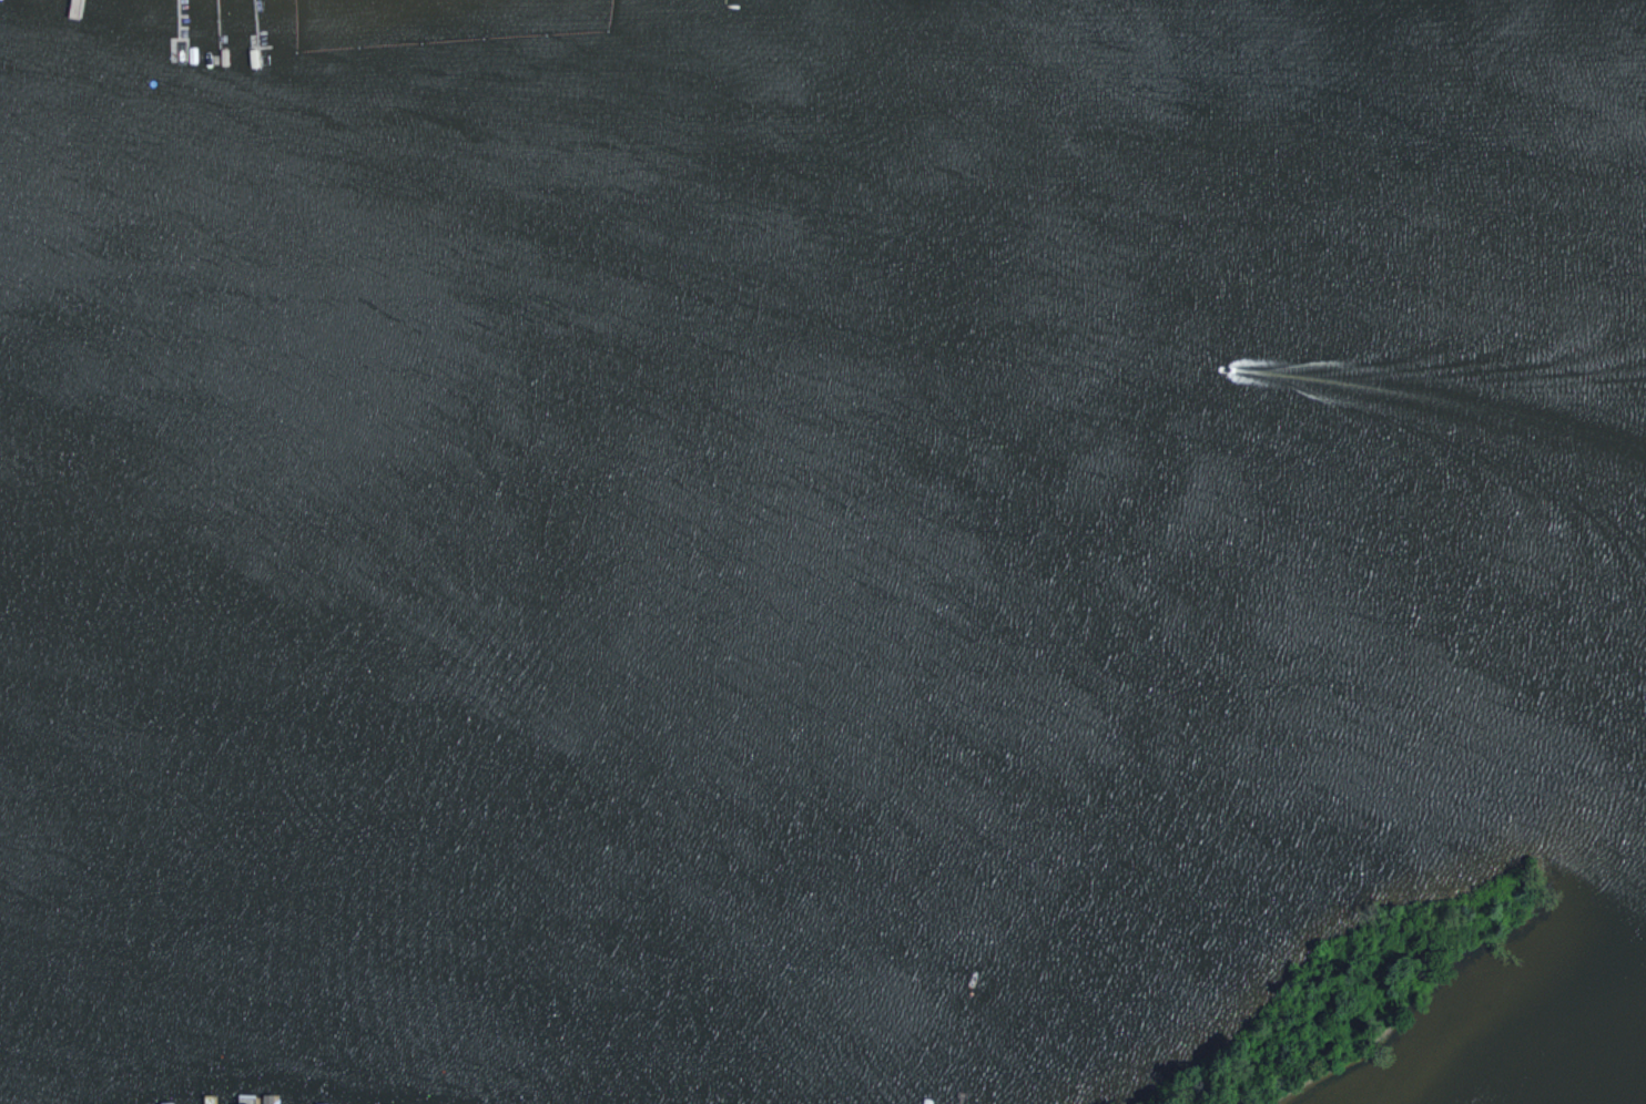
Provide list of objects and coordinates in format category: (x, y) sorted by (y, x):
river: (830, 610)

